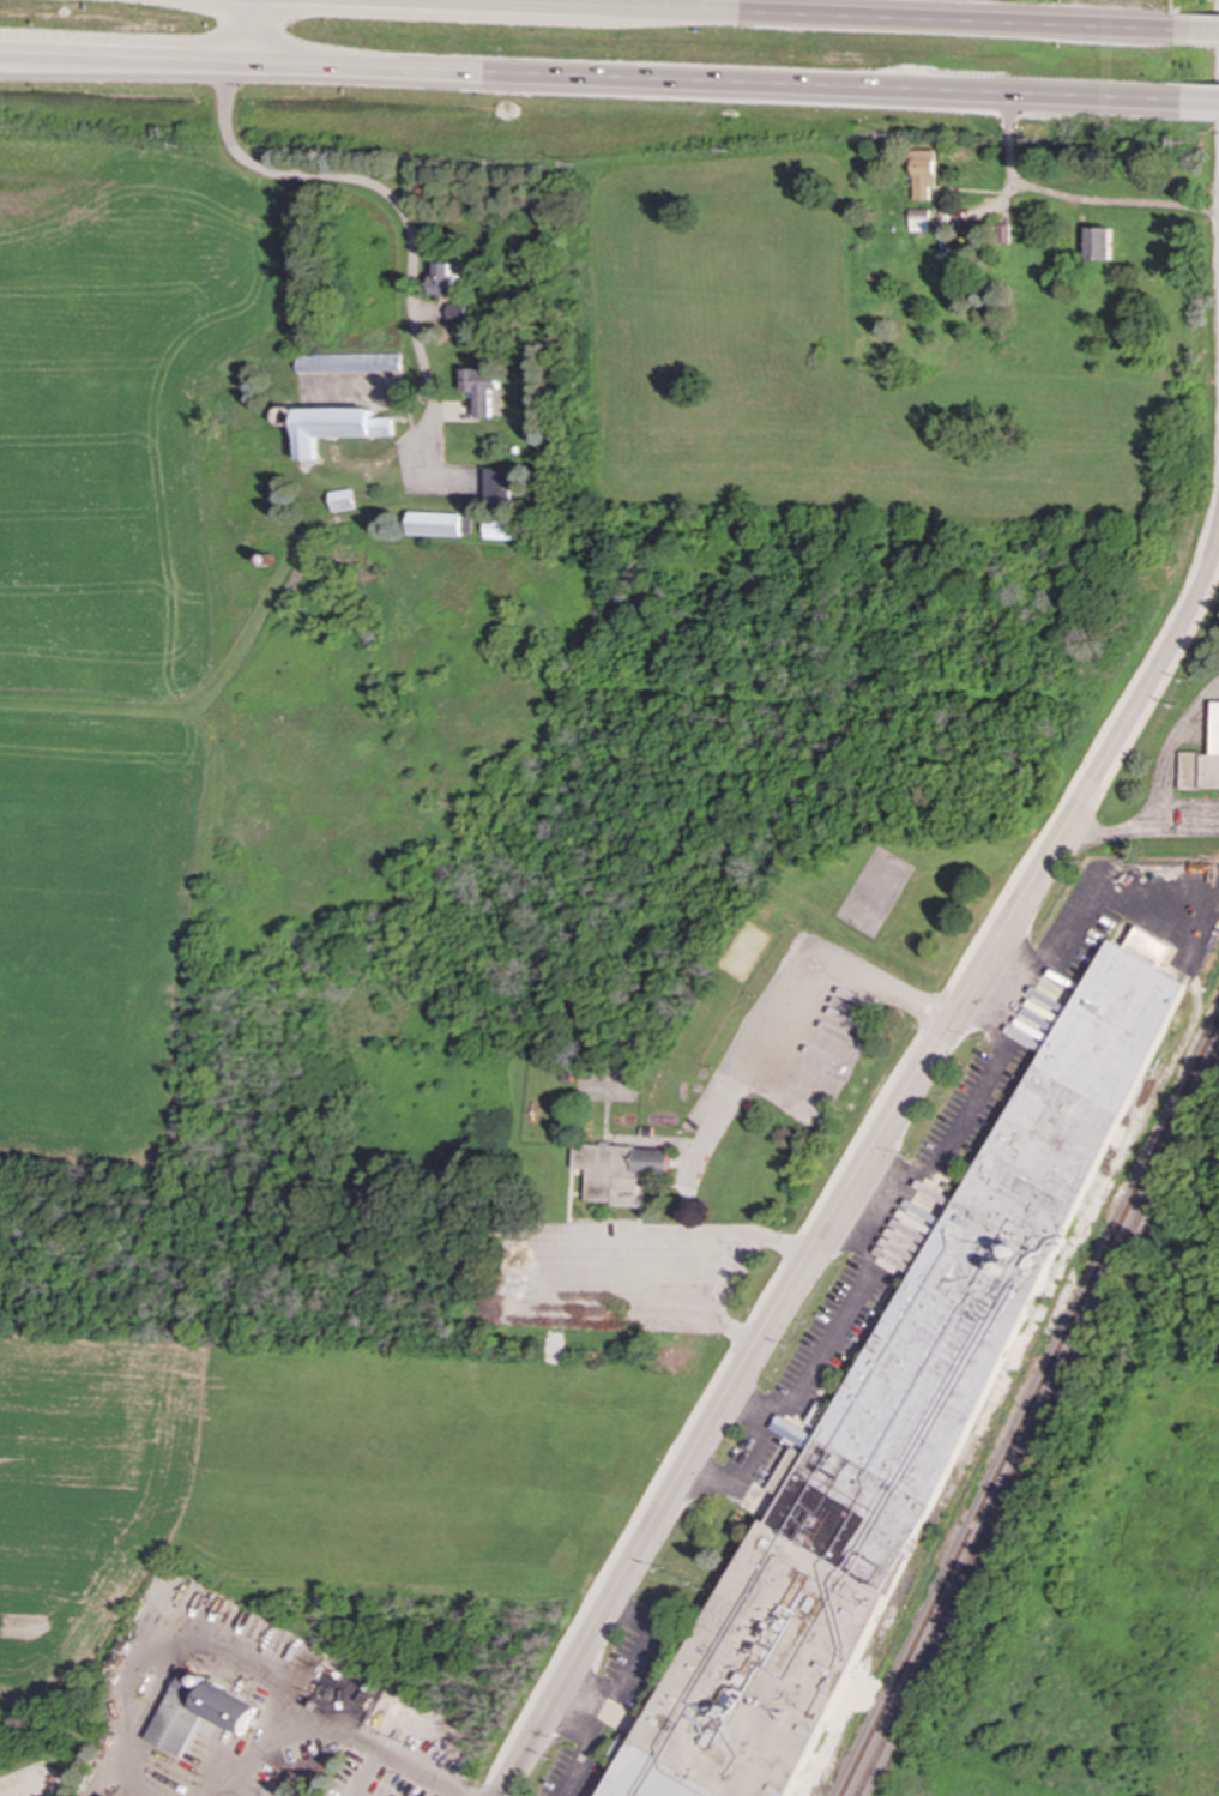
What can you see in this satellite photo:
road: (770, 17)
road: (1203, 31)
road: (237, 32)
road: (253, 32)
road: (24, 59)
road: (590, 80)
road: (1200, 101)
road: (1012, 169)
building: (923, 173)
road: (391, 200)
road: (1115, 201)
building: (918, 219)
building: (1098, 243)
building: (440, 279)
building: (455, 313)
building: (346, 363)
building: (481, 388)
building: (336, 428)
building: (497, 484)
building: (340, 500)
building: (433, 524)
building: (499, 529)
crop: (109, 609)
building: (1202, 763)
road: (1161, 790)
road: (1188, 821)
road: (1073, 914)
road: (1003, 1023)
road: (772, 1030)
road: (968, 1111)
road: (859, 1169)
building: (617, 1170)
road: (892, 1195)
road: (859, 1238)
road: (532, 1249)
road: (723, 1274)
road: (801, 1380)
road: (753, 1405)
railway: (1030, 1409)
building: (901, 1415)
railway: (1038, 1424)
road: (711, 1475)
crop: (84, 1493)
road: (141, 1673)
road: (618, 1692)
road: (580, 1704)
building: (199, 1712)
road: (337, 1728)
road: (368, 1772)

